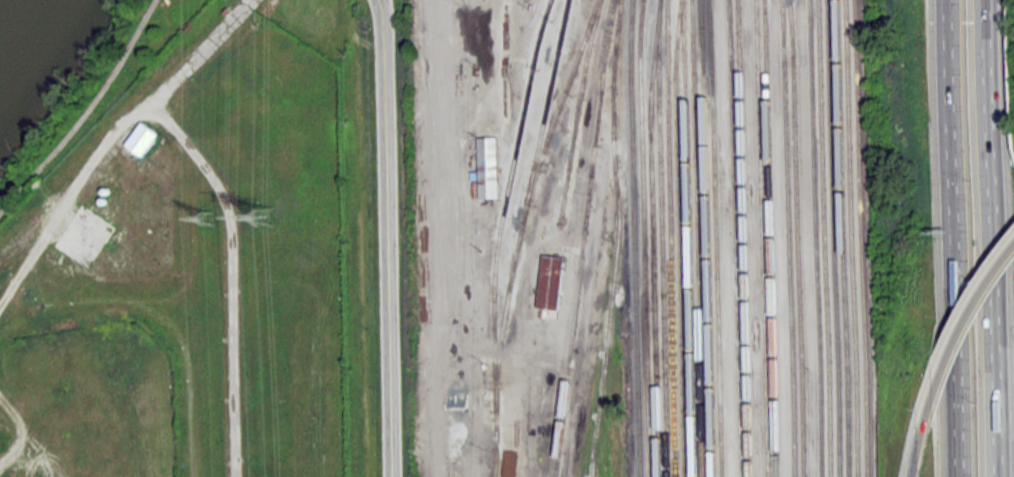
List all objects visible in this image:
railway: (558, 109)
railway: (576, 110)
road: (87, 114)
road: (108, 140)
building: (487, 166)
railway: (525, 203)
power tower: (270, 212)
power tower: (208, 214)
railway: (498, 235)
road: (386, 238)
railway: (582, 238)
railway: (617, 238)
railway: (633, 238)
railway: (643, 238)
railway: (651, 238)
railway: (662, 238)
railway: (671, 238)
railway: (679, 238)
railway: (687, 238)
railway: (696, 238)
railway: (705, 238)
railway: (714, 238)
railway: (733, 238)
railway: (742, 238)
railway: (761, 238)
railway: (770, 238)
railway: (787, 238)
railway: (796, 238)
railway: (814, 238)
railway: (822, 238)
railway: (831, 238)
railway: (840, 238)
railway: (848, 238)
railway: (858, 238)
road: (952, 238)
road: (990, 238)
landfill: (204, 268)
road: (228, 274)
road: (961, 324)
railway: (601, 432)
road: (27, 436)
road: (918, 446)
road: (15, 451)
railway: (593, 475)

